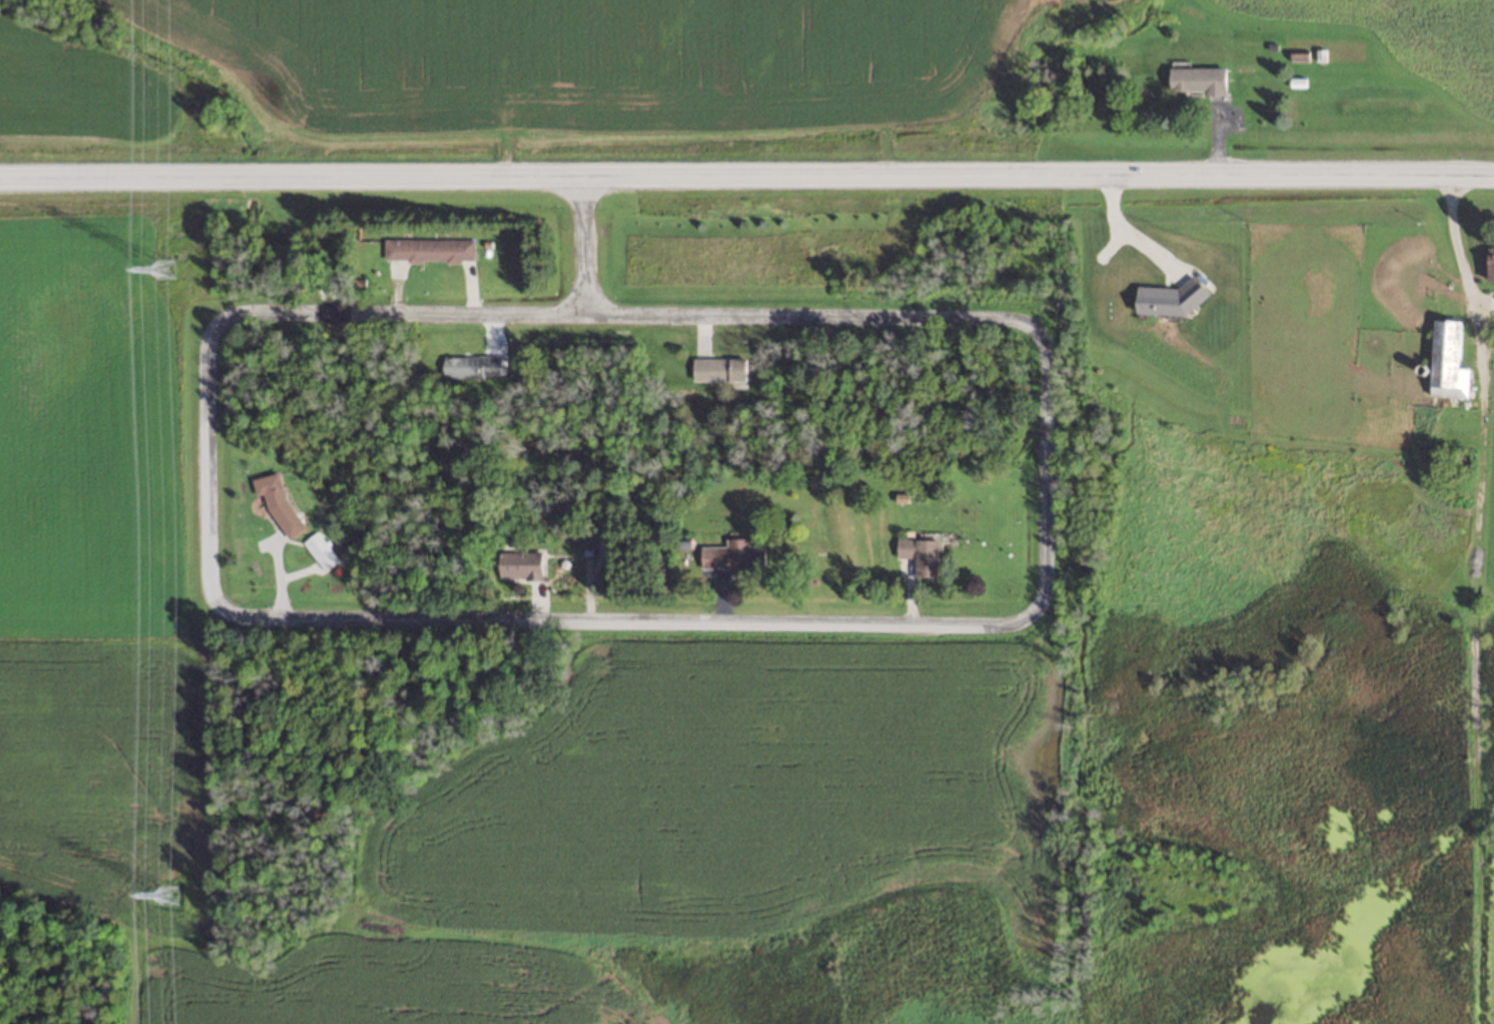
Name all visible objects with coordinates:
building: (1298, 55)
building: (1197, 79)
road: (746, 175)
road: (583, 244)
building: (427, 249)
building: (1490, 261)
power tower: (162, 265)
building: (1448, 360)
building: (471, 367)
building: (718, 368)
building: (276, 500)
building: (319, 550)
building: (731, 554)
building: (918, 554)
building: (518, 563)
road: (327, 618)
power tower: (168, 892)

